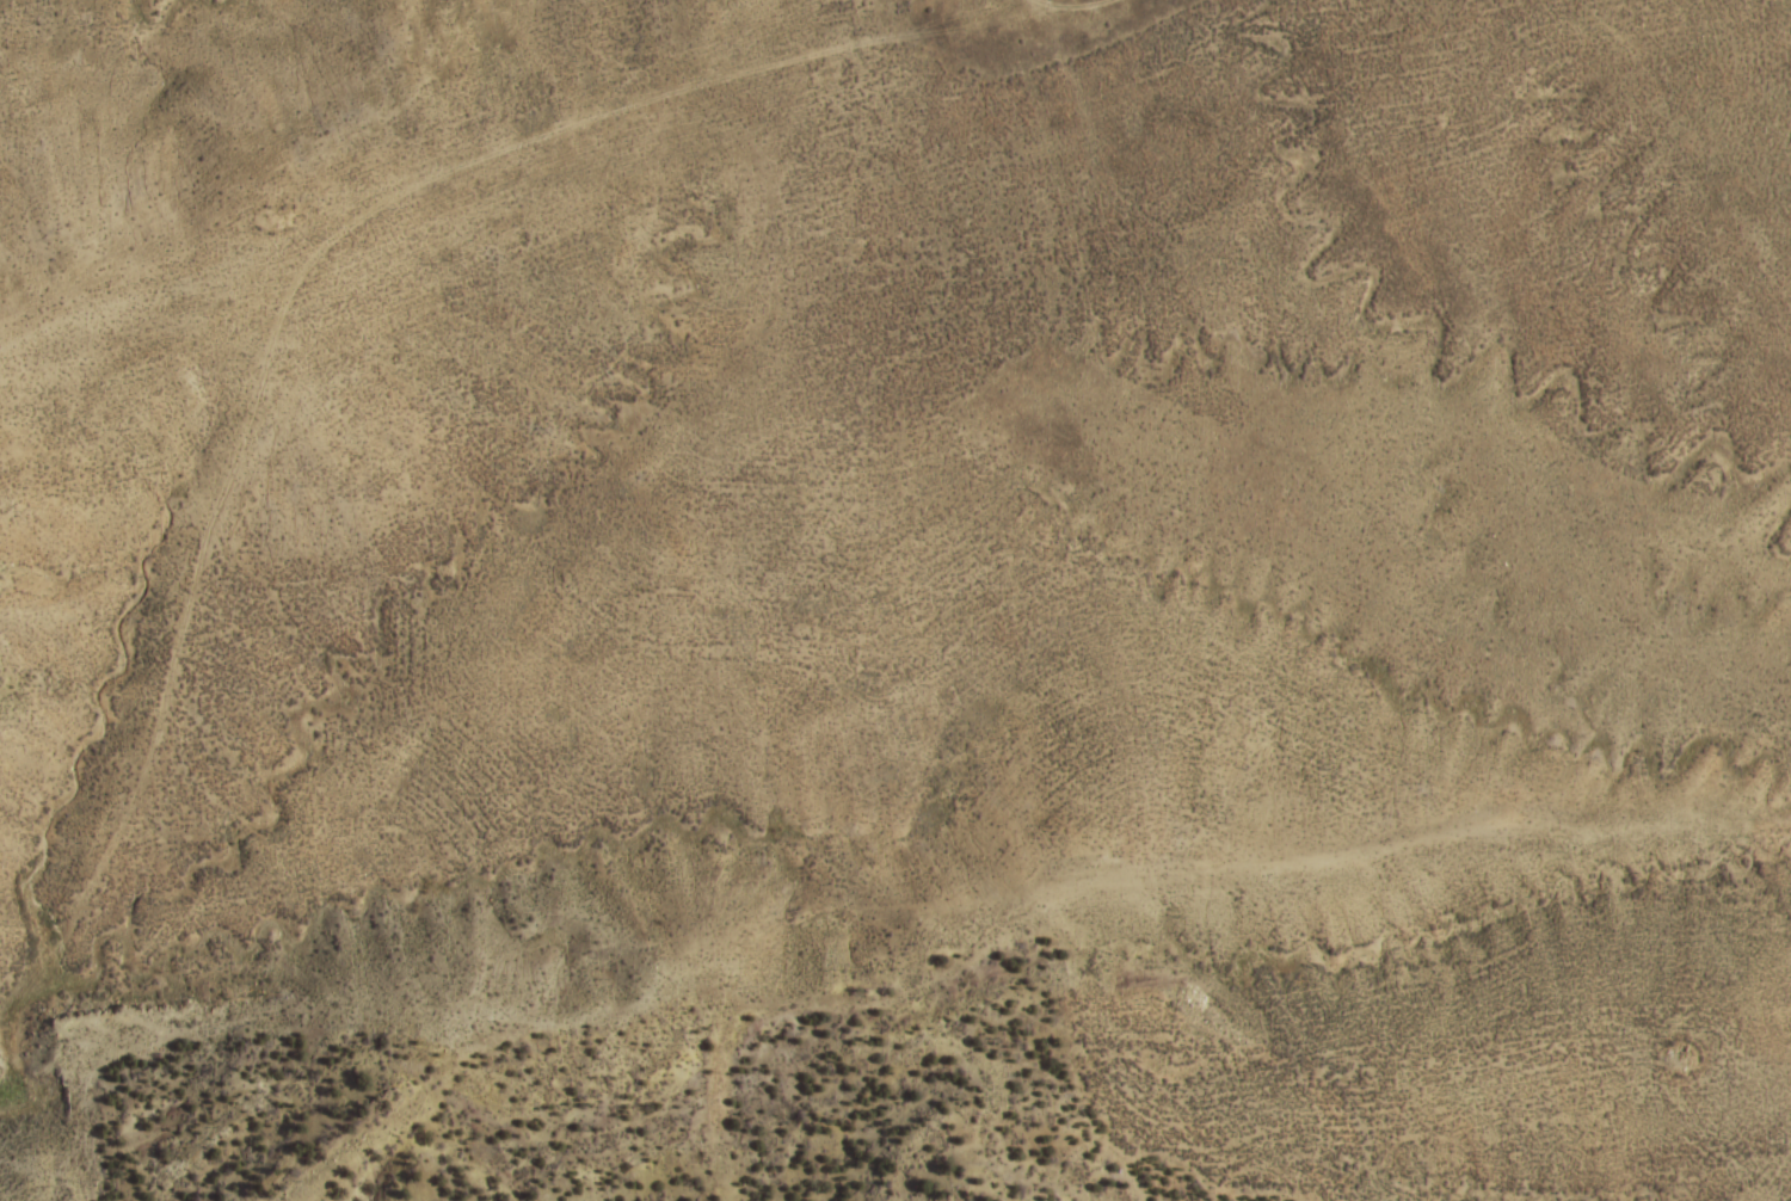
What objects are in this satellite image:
road: (1545, 184)
road: (425, 326)
road: (973, 812)

